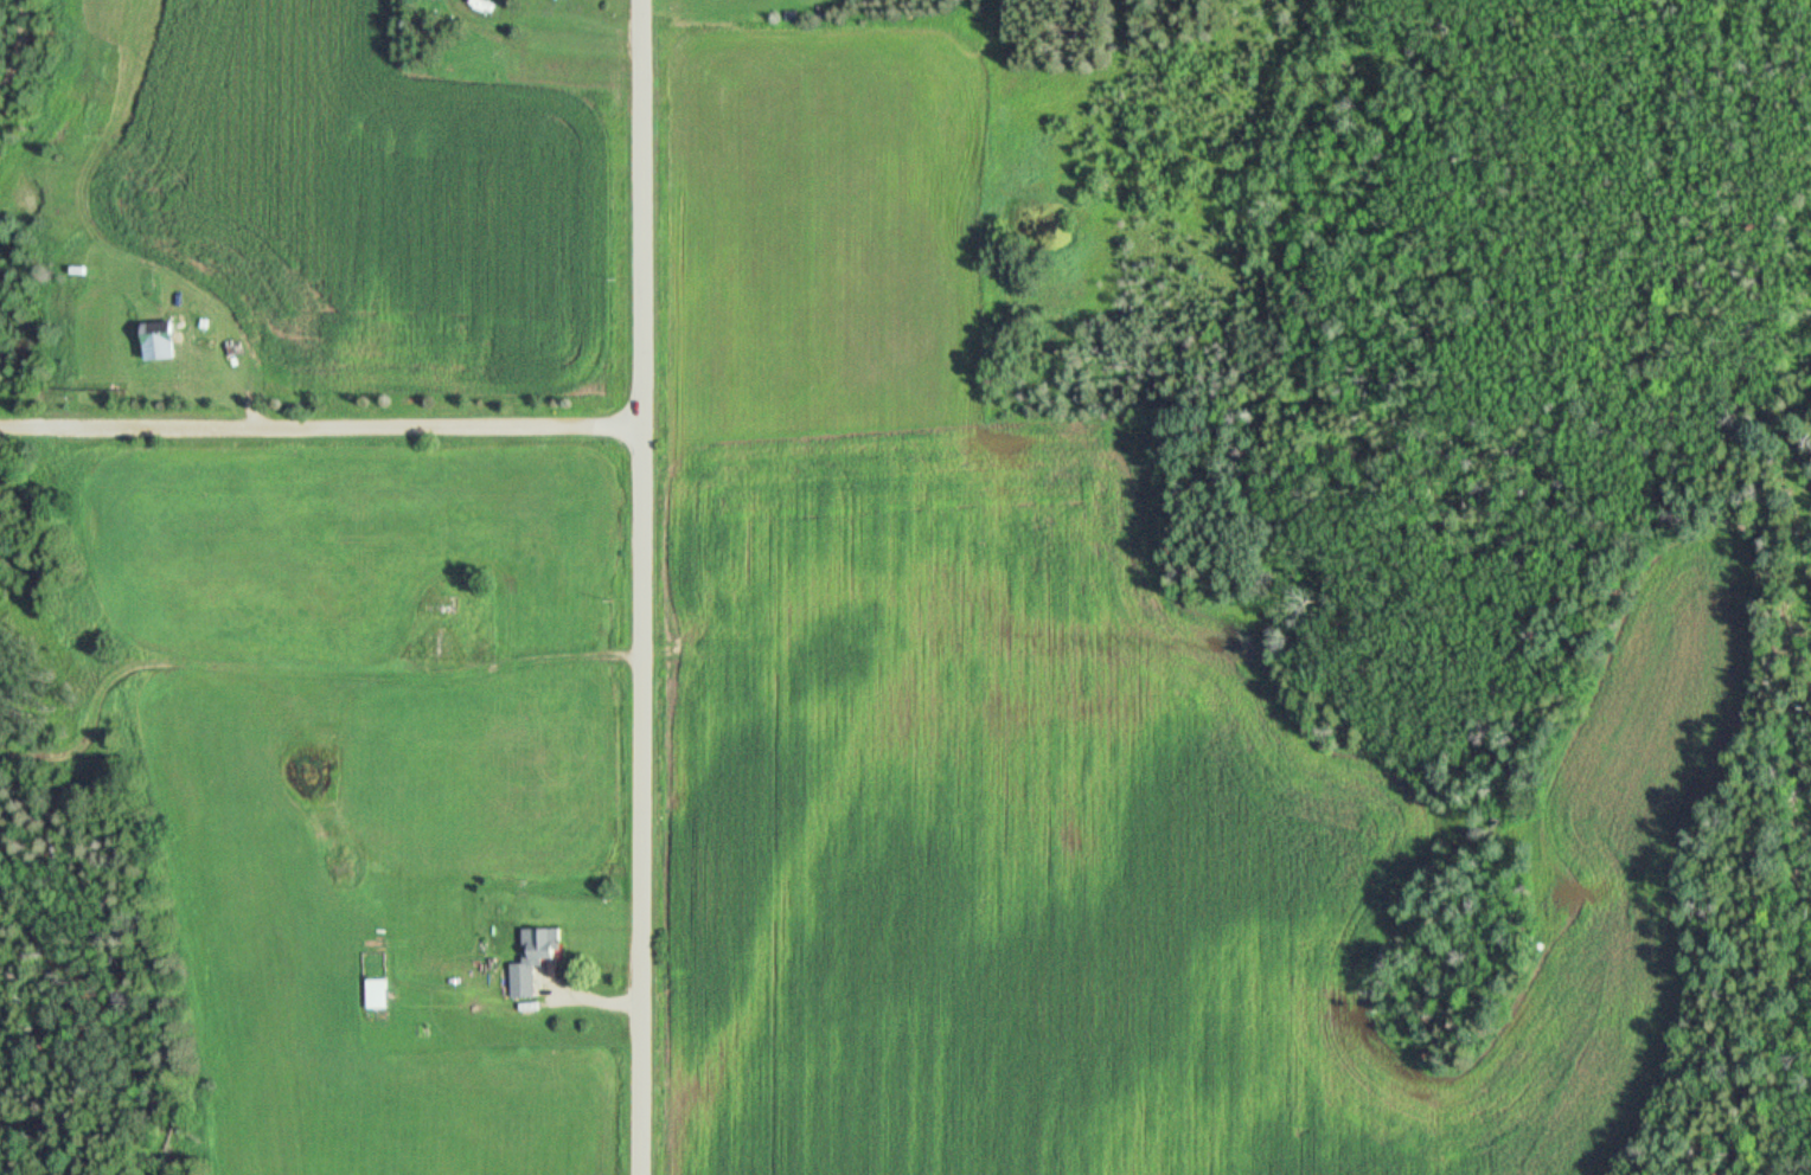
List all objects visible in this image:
road: (9, 40)
building: (159, 341)
road: (321, 428)
road: (642, 586)
building: (532, 961)
building: (377, 995)

